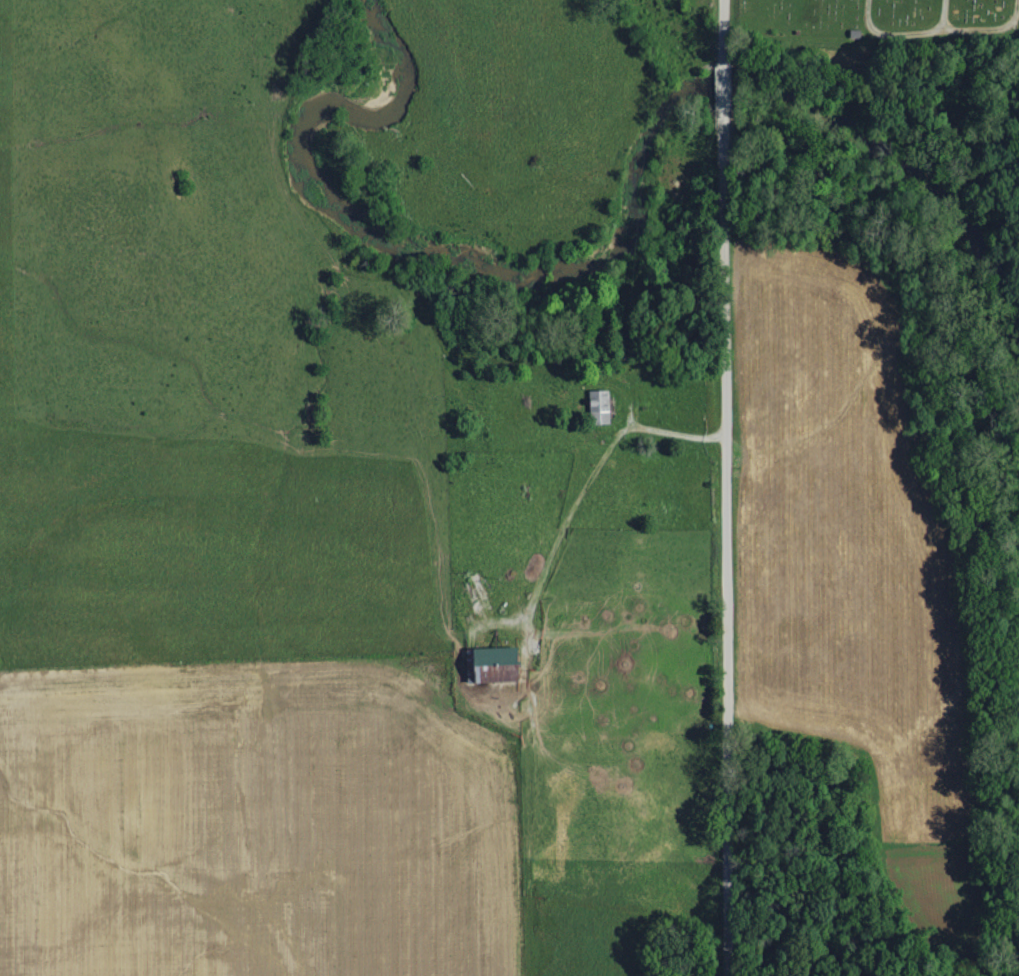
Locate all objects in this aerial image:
road: (721, 29)
road: (722, 84)
building: (601, 407)
road: (677, 429)
road: (725, 542)
building: (499, 664)

